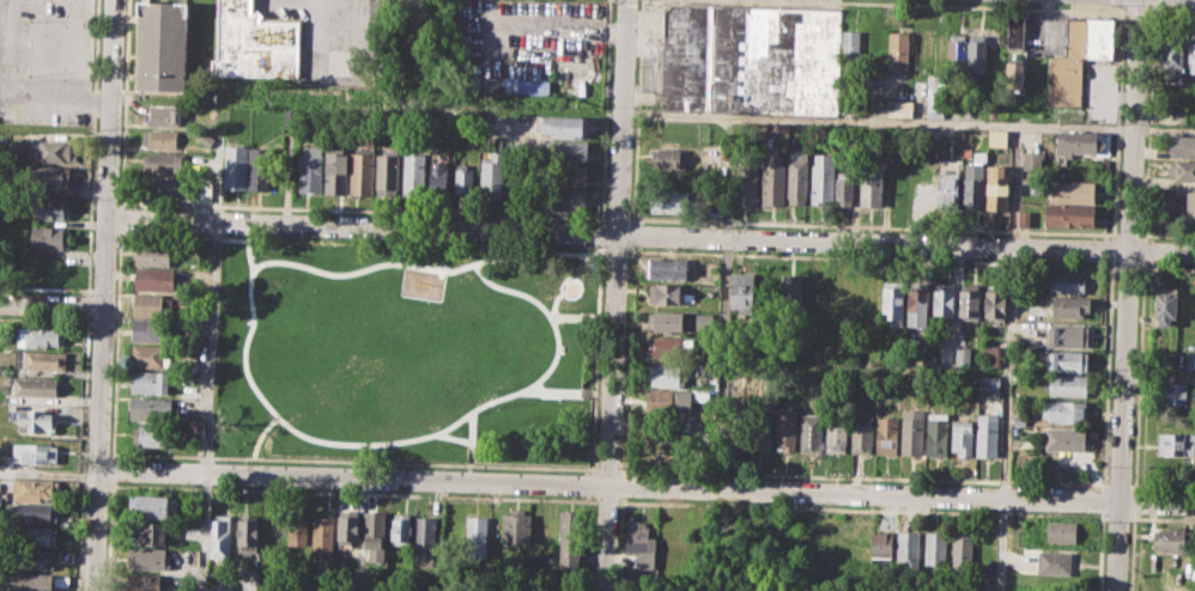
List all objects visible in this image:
road: (1153, 1)
road: (5, 2)
road: (954, 5)
road: (1134, 11)
road: (1170, 12)
building: (1014, 32)
building: (1100, 37)
building: (254, 42)
parking lot: (533, 44)
building: (162, 45)
building: (851, 45)
building: (898, 49)
building: (956, 54)
building: (977, 54)
building: (1191, 55)
building: (750, 57)
building: (1171, 59)
parking lot: (46, 61)
building: (1067, 68)
building: (1013, 74)
building: (514, 86)
road: (16, 96)
building: (905, 108)
building: (936, 109)
building: (162, 117)
building: (291, 117)
road: (909, 121)
building: (565, 126)
building: (996, 136)
building: (160, 138)
building: (1082, 142)
road: (1147, 144)
building: (1182, 146)
building: (565, 150)
building: (50, 151)
building: (978, 156)
building: (672, 158)
building: (1031, 160)
building: (164, 162)
building: (259, 167)
building: (310, 167)
building: (1181, 170)
building: (235, 171)
building: (336, 171)
building: (439, 171)
building: (362, 172)
building: (387, 172)
building: (565, 173)
building: (414, 175)
building: (47, 176)
building: (491, 177)
building: (799, 177)
building: (463, 178)
building: (823, 178)
building: (774, 179)
building: (871, 183)
building: (746, 184)
road: (1014, 184)
building: (164, 187)
building: (845, 188)
building: (972, 188)
building: (997, 189)
building: (948, 190)
building: (1073, 190)
building: (565, 199)
building: (672, 201)
building: (1164, 203)
building: (1190, 205)
building: (50, 208)
building: (1069, 214)
building: (1024, 217)
road: (651, 234)
building: (49, 237)
building: (157, 254)
building: (667, 267)
building: (156, 278)
building: (1066, 281)
building: (742, 290)
building: (817, 292)
building: (669, 293)
building: (790, 293)
road: (1127, 294)
road: (107, 295)
road: (617, 295)
building: (944, 298)
building: (893, 300)
building: (970, 300)
building: (1166, 301)
building: (918, 303)
building: (152, 304)
building: (995, 304)
building: (1070, 306)
road: (53, 307)
building: (704, 317)
building: (665, 319)
building: (154, 329)
building: (1068, 334)
building: (38, 335)
building: (665, 346)
road: (211, 352)
building: (147, 355)
building: (991, 355)
building: (963, 357)
building: (38, 359)
building: (1190, 359)
building: (1067, 360)
building: (189, 365)
building: (668, 374)
road: (1159, 376)
building: (150, 380)
building: (1067, 384)
building: (988, 385)
building: (36, 386)
building: (189, 392)
building: (1176, 394)
building: (669, 400)
building: (150, 407)
building: (1064, 410)
road: (1007, 418)
building: (36, 420)
building: (1020, 420)
building: (785, 427)
building: (762, 429)
building: (912, 431)
building: (811, 432)
building: (836, 433)
building: (936, 433)
building: (987, 433)
building: (152, 434)
building: (861, 434)
building: (886, 434)
building: (963, 435)
building: (1063, 439)
building: (1176, 443)
building: (37, 452)
road: (50, 473)
building: (35, 488)
road: (648, 488)
building: (150, 506)
building: (32, 512)
building: (348, 525)
building: (401, 528)
building: (297, 529)
building: (517, 530)
building: (1061, 531)
building: (151, 532)
building: (248, 532)
building: (323, 534)
building: (375, 535)
building: (35, 536)
building: (220, 536)
building: (274, 536)
building: (478, 536)
building: (425, 537)
building: (1170, 538)
building: (570, 541)
building: (641, 544)
building: (881, 546)
building: (855, 549)
building: (936, 550)
building: (962, 550)
building: (908, 553)
building: (196, 556)
building: (150, 558)
building: (34, 559)
building: (1054, 562)
building: (345, 580)
building: (31, 581)
building: (145, 581)
road: (204, 585)
building: (224, 589)
building: (560, 590)

